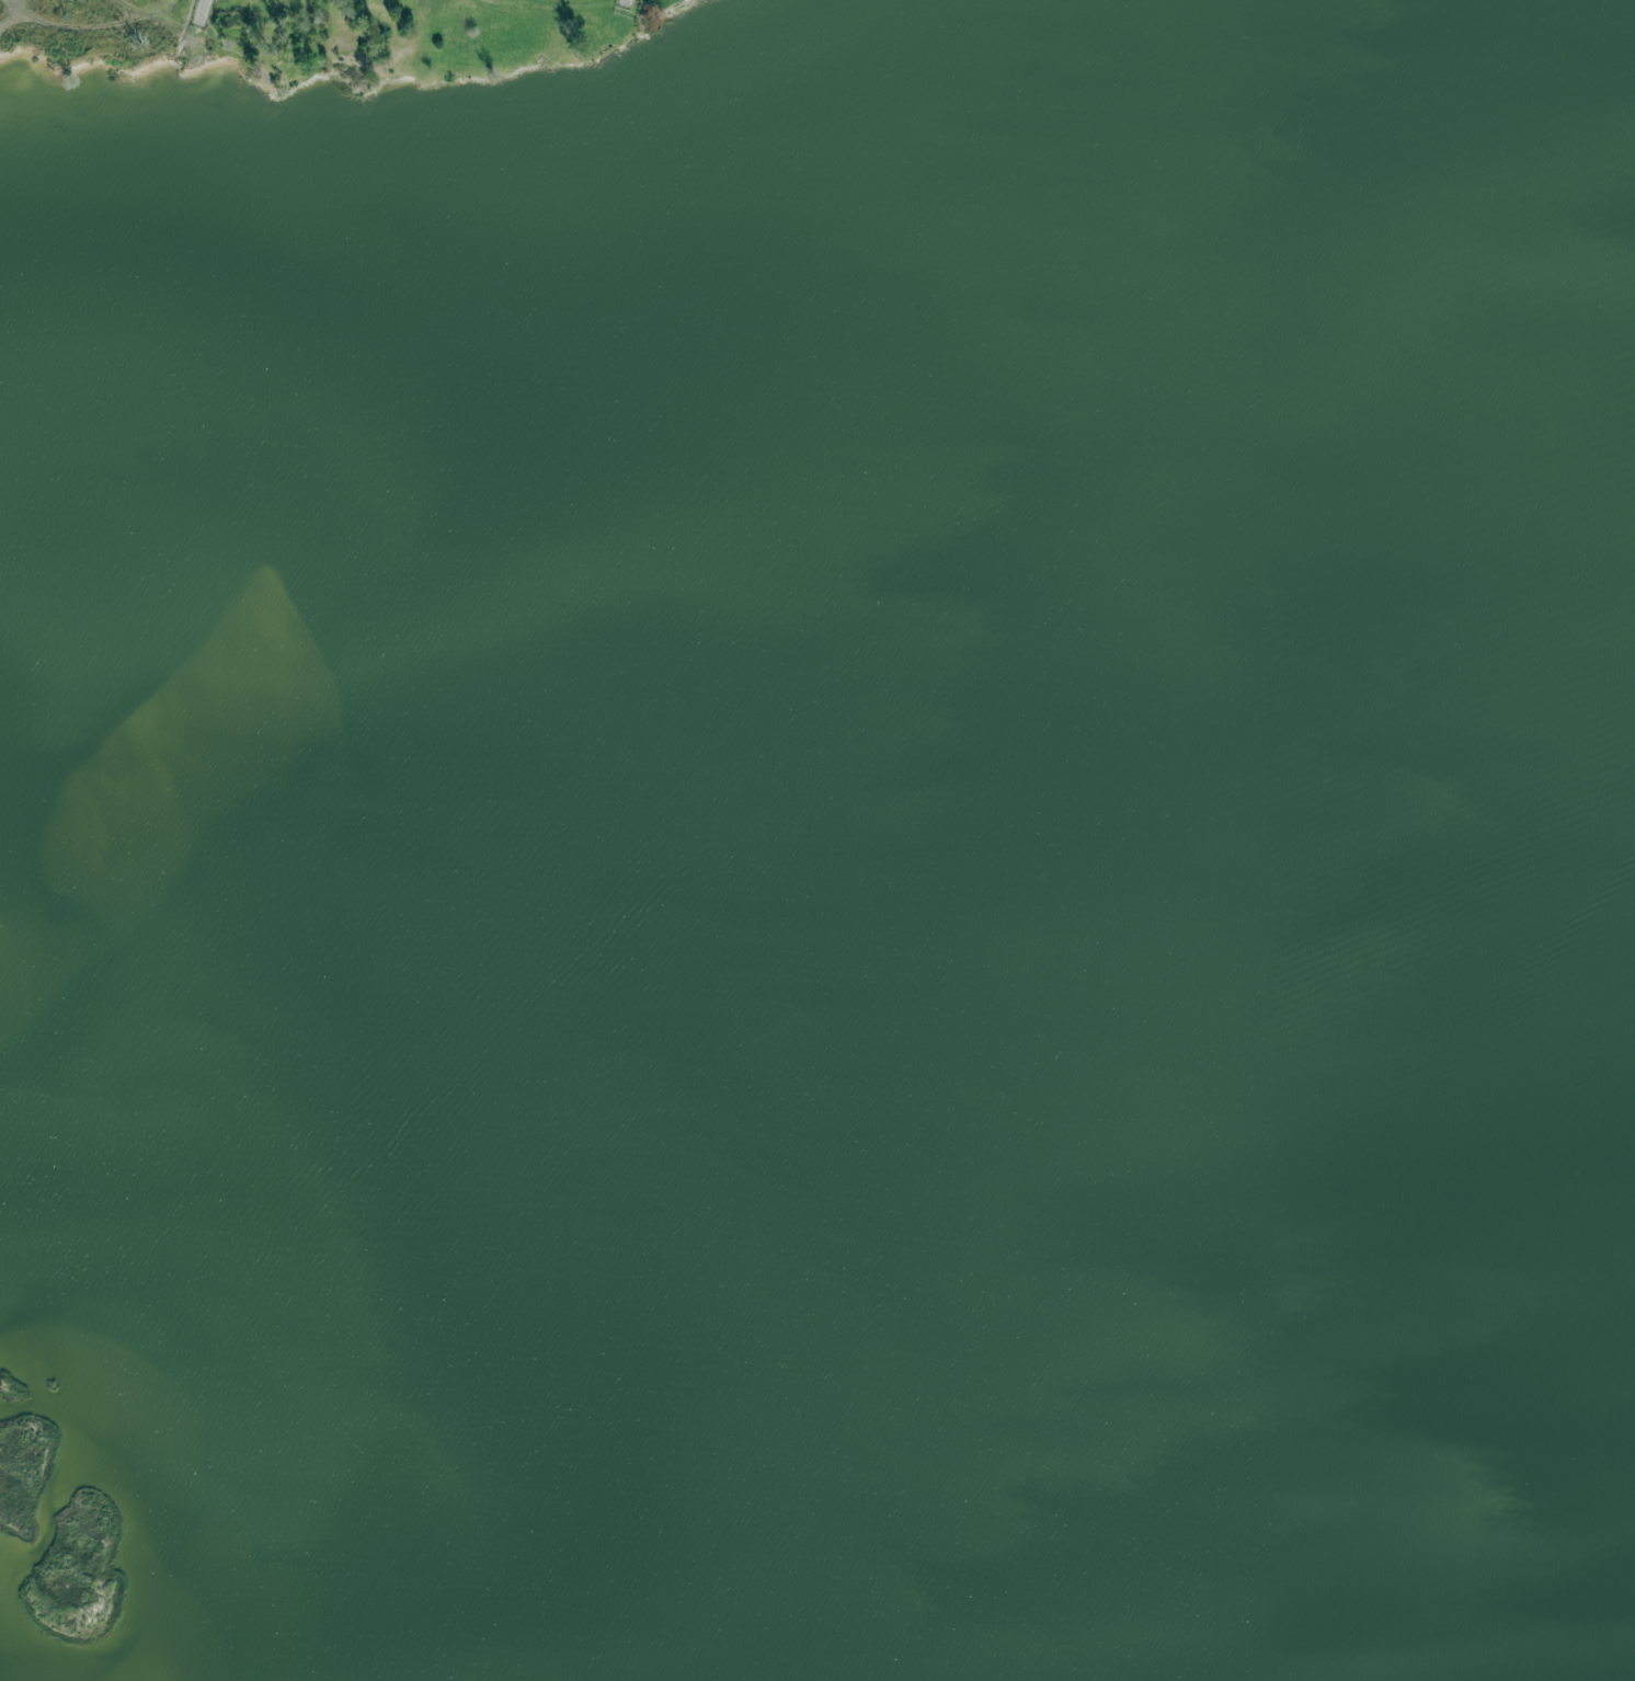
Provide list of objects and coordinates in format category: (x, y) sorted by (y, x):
road: (627, 2)
road: (204, 8)

